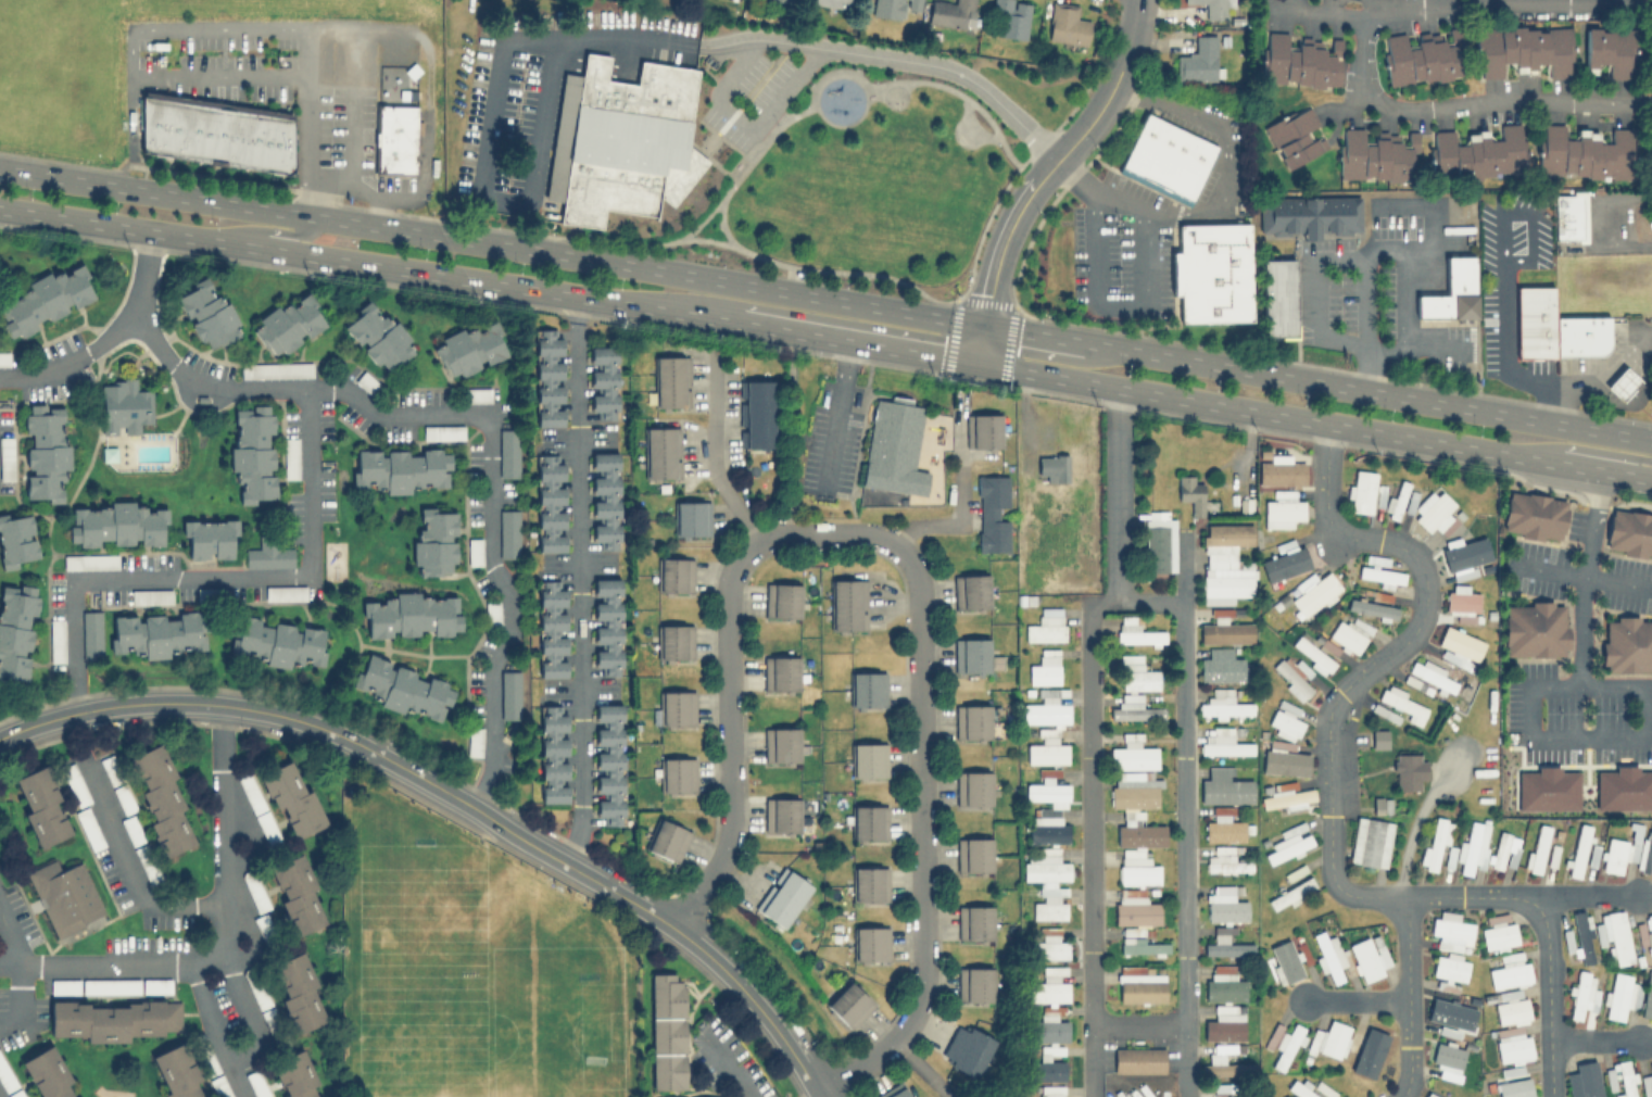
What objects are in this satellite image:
building: (784, 0)
building: (833, 2)
building: (894, 7)
building: (1213, 7)
building: (951, 12)
road: (1321, 12)
building: (1010, 17)
building: (1065, 23)
road: (134, 30)
road: (613, 35)
road: (1130, 35)
building: (1524, 49)
building: (1612, 50)
building: (1420, 56)
building: (1199, 60)
building: (1300, 60)
park: (894, 96)
road: (1408, 105)
road: (349, 106)
road: (426, 112)
road: (748, 124)
road: (969, 127)
park: (968, 129)
building: (216, 130)
road: (766, 131)
building: (1296, 136)
building: (394, 137)
building: (621, 140)
road: (311, 146)
building: (1478, 151)
building: (1582, 151)
building: (1169, 154)
building: (1367, 156)
park: (887, 167)
road: (1018, 202)
road: (1223, 202)
road: (375, 207)
building: (1307, 214)
building: (1567, 216)
road: (1614, 220)
road: (272, 230)
road: (490, 242)
road: (1384, 254)
road: (368, 264)
road: (816, 268)
building: (1214, 270)
road: (1501, 287)
building: (1451, 291)
building: (1279, 295)
building: (46, 299)
road: (1117, 307)
building: (207, 314)
road: (1314, 314)
building: (290, 323)
building: (1534, 323)
traffic signals: (980, 324)
road: (1405, 328)
road: (1032, 332)
building: (379, 336)
building: (1579, 336)
road: (109, 337)
road: (856, 341)
building: (469, 348)
building: (4, 358)
traffic signals: (975, 363)
road: (1604, 363)
building: (276, 368)
building: (548, 377)
building: (671, 380)
building: (367, 382)
building: (604, 382)
building: (1622, 382)
road: (1367, 390)
building: (478, 394)
building: (124, 405)
road: (836, 412)
building: (756, 413)
road: (1313, 420)
road: (488, 424)
building: (982, 430)
building: (441, 432)
road: (792, 432)
building: (893, 445)
building: (45, 452)
building: (661, 452)
road: (711, 452)
building: (254, 453)
building: (508, 453)
building: (7, 456)
building: (290, 457)
road: (1585, 457)
building: (1052, 467)
building: (402, 469)
building: (1279, 469)
road: (81, 478)
building: (1361, 491)
building: (1191, 492)
road: (1119, 494)
building: (605, 499)
building: (1397, 500)
road: (962, 502)
building: (550, 503)
road: (24, 505)
building: (1282, 509)
building: (992, 513)
building: (1435, 513)
building: (1534, 515)
building: (691, 518)
building: (115, 525)
building: (1629, 532)
building: (508, 533)
road: (822, 533)
building: (210, 538)
building: (17, 540)
building: (434, 540)
building: (1224, 540)
building: (1159, 541)
building: (1467, 542)
building: (475, 550)
building: (268, 553)
building: (90, 560)
building: (1285, 563)
road: (1183, 567)
building: (1379, 571)
building: (674, 573)
road: (1580, 575)
road: (1584, 578)
road: (219, 580)
building: (1224, 583)
building: (285, 591)
building: (970, 591)
building: (1315, 594)
building: (151, 595)
road: (578, 597)
building: (782, 600)
building: (1462, 601)
building: (847, 604)
building: (1372, 607)
building: (492, 613)
building: (413, 615)
building: (607, 626)
building: (1045, 626)
building: (1535, 628)
building: (552, 629)
building: (16, 630)
building: (1135, 631)
building: (1225, 631)
building: (157, 633)
building: (91, 634)
building: (1349, 634)
building: (56, 640)
building: (674, 641)
building: (276, 642)
building: (1626, 644)
road: (381, 646)
building: (1460, 647)
building: (1312, 654)
building: (972, 655)
building: (1221, 666)
building: (1044, 667)
building: (780, 672)
building: (1136, 672)
building: (1430, 673)
building: (1292, 676)
building: (403, 688)
building: (867, 689)
building: (509, 693)
building: (1403, 704)
building: (1224, 705)
building: (676, 707)
building: (1046, 708)
building: (1135, 711)
building: (975, 720)
building: (1285, 720)
road: (1529, 736)
building: (1379, 737)
building: (475, 741)
building: (1223, 742)
road: (729, 744)
building: (781, 744)
road: (1329, 749)
building: (1046, 752)
building: (1133, 753)
building: (553, 754)
building: (1284, 758)
building: (869, 760)
building: (608, 764)
building: (110, 769)
building: (1408, 771)
building: (677, 773)
building: (74, 783)
building: (1224, 786)
building: (972, 787)
building: (1624, 787)
building: (1547, 789)
building: (249, 791)
building: (1134, 791)
building: (1047, 792)
road: (453, 797)
building: (123, 798)
building: (161, 798)
building: (291, 798)
building: (1287, 798)
building: (1382, 805)
building: (41, 806)
building: (784, 815)
road: (1185, 816)
building: (869, 821)
building: (1223, 828)
building: (88, 829)
building: (267, 829)
road: (1413, 829)
building: (131, 830)
building: (1047, 830)
road: (1092, 835)
building: (1140, 835)
building: (668, 840)
building: (1371, 842)
building: (1289, 843)
road: (922, 844)
building: (1434, 844)
building: (1473, 846)
building: (1538, 848)
building: (1578, 849)
building: (1503, 850)
building: (1645, 850)
building: (973, 854)
building: (1613, 855)
building: (1225, 860)
road: (130, 865)
building: (148, 865)
building: (1045, 869)
building: (1136, 869)
building: (869, 883)
building: (253, 888)
building: (1296, 890)
building: (64, 895)
building: (295, 895)
building: (782, 896)
building: (1224, 905)
building: (1135, 908)
building: (1048, 909)
building: (974, 922)
building: (264, 928)
building: (1451, 930)
building: (1499, 932)
building: (1650, 932)
building: (1615, 934)
building: (1582, 936)
road: (224, 943)
building: (870, 943)
building: (1051, 944)
building: (1145, 946)
building: (1227, 948)
building: (1328, 956)
building: (1369, 957)
building: (1285, 960)
building: (1450, 967)
road: (18, 970)
building: (1510, 971)
building: (974, 984)
building: (110, 985)
building: (155, 985)
building: (1140, 985)
building: (63, 986)
building: (255, 987)
building: (1048, 987)
building: (1224, 987)
road: (1549, 989)
building: (297, 993)
building: (1584, 994)
building: (1621, 995)
road: (1408, 997)
building: (1647, 997)
road: (1358, 998)
building: (849, 1004)
building: (1512, 1010)
building: (1451, 1013)
road: (249, 1014)
building: (269, 1018)
building: (113, 1019)
park: (487, 1021)
road: (1140, 1022)
building: (1225, 1023)
building: (1049, 1027)
road: (217, 1031)
building: (667, 1031)
building: (1329, 1038)
road: (1594, 1041)
building: (1282, 1043)
building: (1513, 1046)
building: (968, 1049)
building: (1372, 1049)
building: (203, 1055)
building: (1138, 1059)
building: (1447, 1060)
building: (1223, 1066)
road: (919, 1068)
building: (1047, 1069)
building: (176, 1072)
road: (728, 1072)
building: (47, 1073)
building: (294, 1075)
building: (5, 1076)
building: (1621, 1077)
building: (1584, 1079)
building: (255, 1083)
building: (1648, 1083)
building: (218, 1086)
building: (1221, 1086)
building: (1514, 1087)
building: (1308, 1088)
building: (1051, 1090)
building: (894, 1092)
building: (15, 1093)
building: (1429, 1095)

